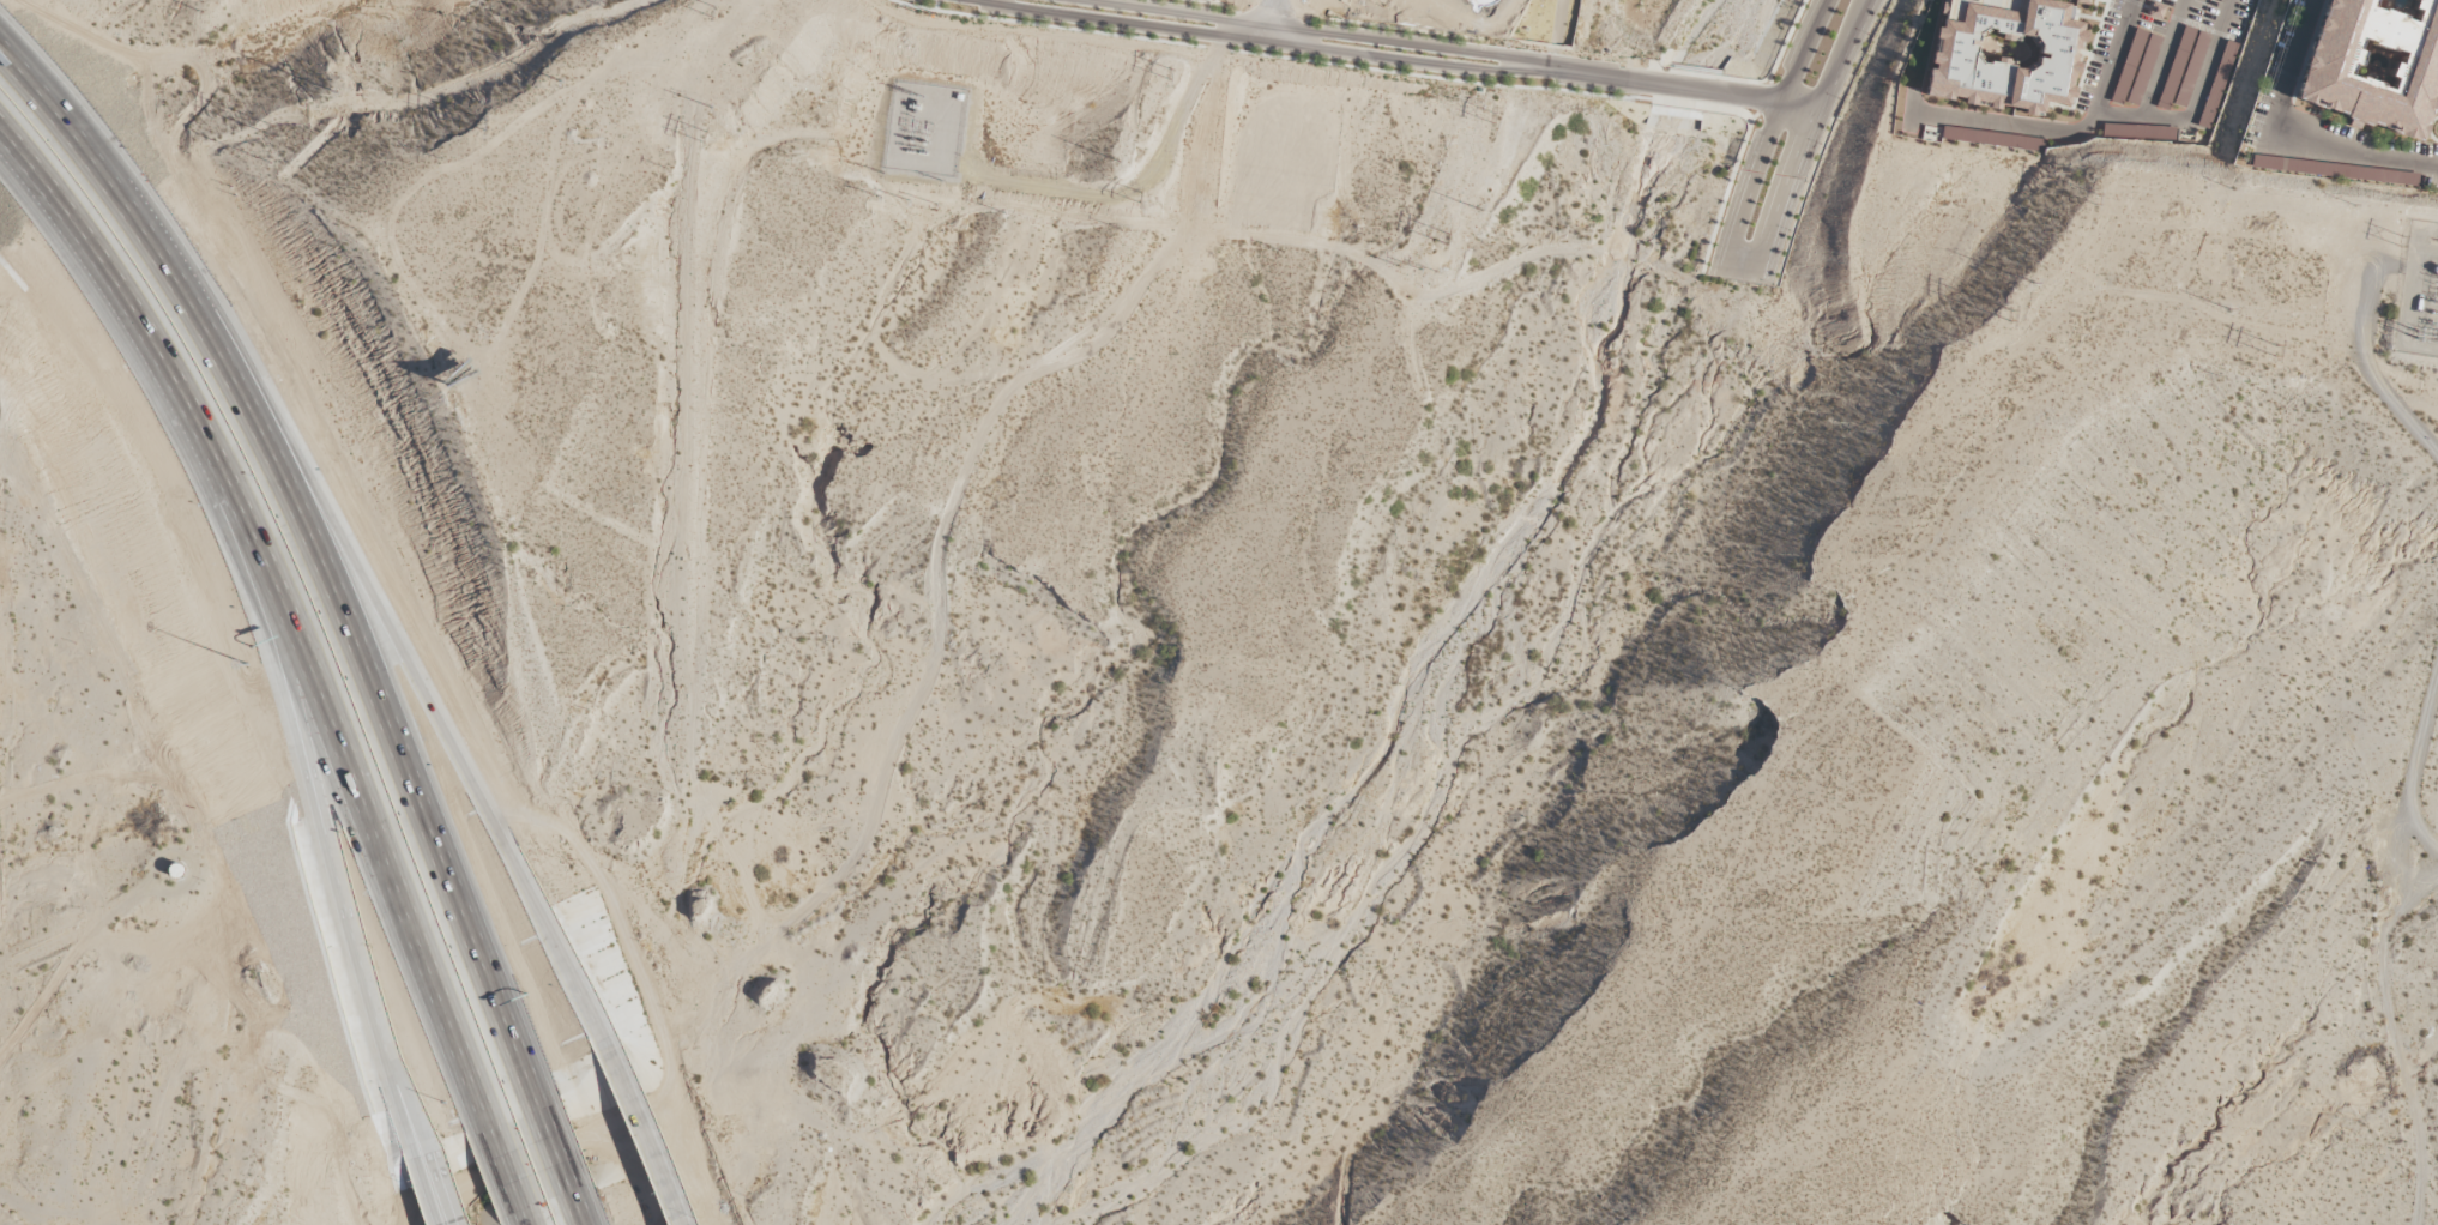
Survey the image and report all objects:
road: (1202, 2)
road: (935, 5)
road: (2228, 16)
road: (1045, 25)
road: (1224, 28)
road: (1314, 31)
road: (1259, 38)
road: (1209, 48)
road: (1805, 52)
road: (1836, 58)
building: (2002, 65)
building: (2136, 68)
building: (2376, 68)
building: (2183, 70)
building: (2219, 85)
road: (1683, 86)
power tower: (485, 123)
power substation: (925, 127)
road: (2064, 128)
building: (2140, 129)
power tower: (705, 137)
road: (2286, 144)
road: (1132, 191)
power tower: (1139, 194)
power tower: (1446, 239)
road: (1742, 259)
power substation: (2418, 292)
power tower: (2010, 314)
power tower: (2276, 346)
road: (2365, 361)
road: (314, 539)
road: (280, 583)
road: (437, 726)
road: (2413, 765)
road: (322, 827)
road: (644, 1136)
road: (544, 1147)
road: (509, 1160)
road: (434, 1189)
road: (572, 1215)
road: (535, 1224)

